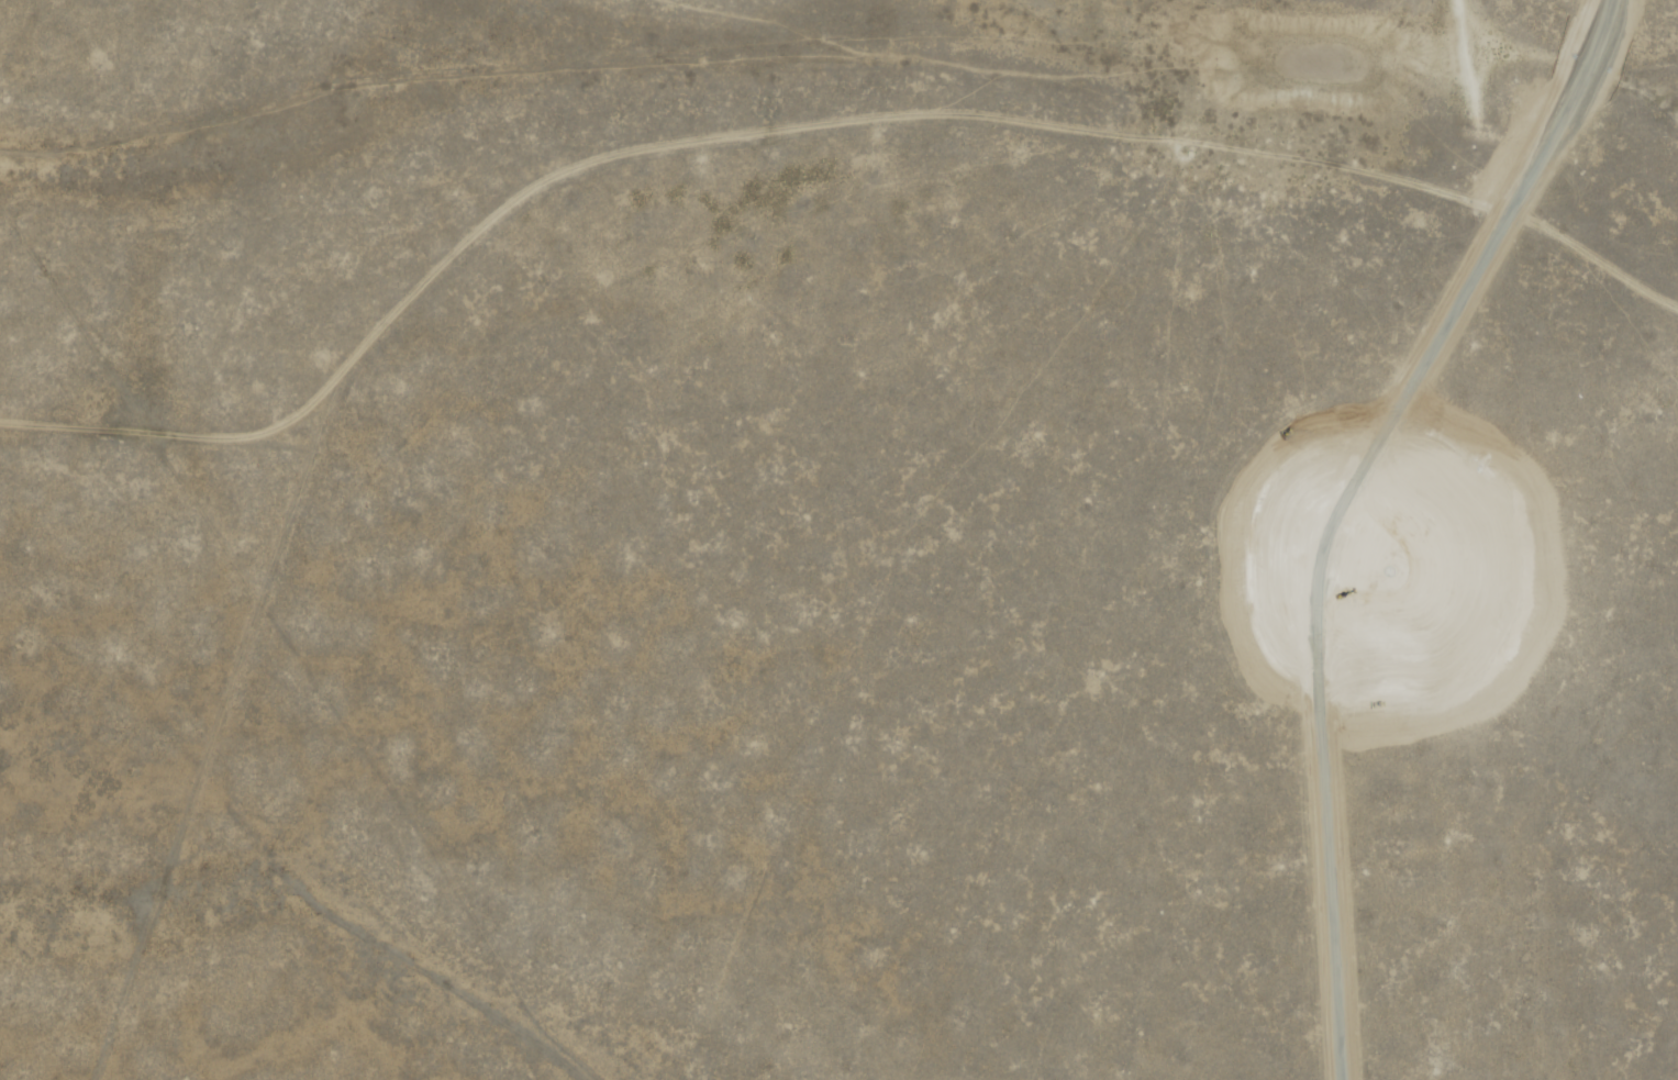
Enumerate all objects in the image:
road: (567, 124)
road: (90, 400)
wind turbine: (1382, 579)

